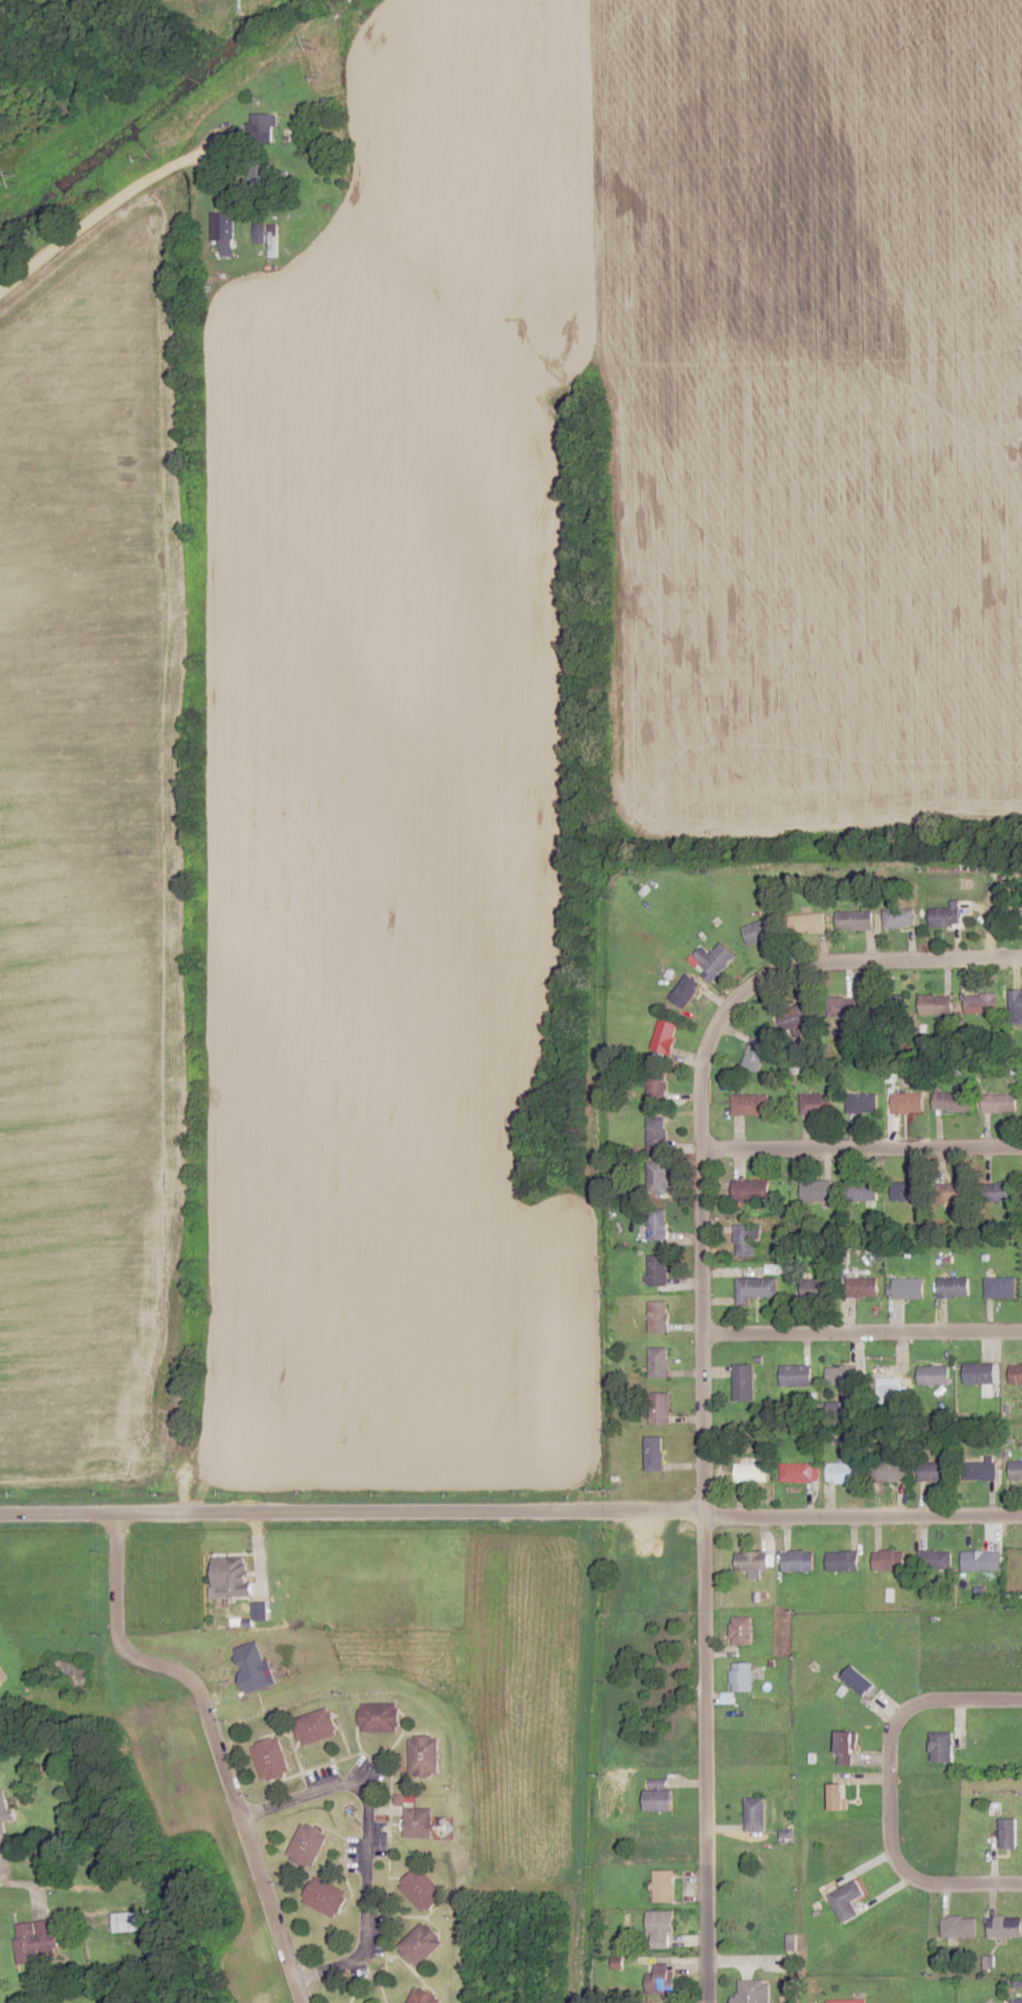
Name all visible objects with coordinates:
building: (264, 127)
road: (105, 220)
building: (259, 230)
building: (223, 231)
building: (273, 239)
building: (1019, 914)
building: (947, 915)
building: (900, 917)
building: (855, 919)
building: (809, 923)
building: (759, 931)
building: (715, 959)
building: (686, 991)
building: (981, 1003)
building: (935, 1004)
building: (890, 1005)
building: (843, 1006)
building: (797, 1015)
building: (664, 1037)
building: (755, 1054)
building: (657, 1085)
building: (952, 1101)
building: (999, 1102)
building: (816, 1103)
building: (862, 1103)
building: (907, 1103)
road: (697, 1104)
building: (750, 1104)
building: (656, 1135)
road: (859, 1147)
building: (657, 1177)
building: (750, 1190)
building: (816, 1190)
building: (907, 1190)
building: (862, 1191)
building: (1000, 1191)
building: (952, 1192)
building: (657, 1224)
building: (745, 1240)
building: (657, 1270)
building: (821, 1287)
building: (862, 1287)
building: (953, 1287)
building: (1000, 1287)
building: (907, 1288)
building: (756, 1289)
building: (658, 1316)
road: (860, 1333)
building: (658, 1362)
building: (979, 1373)
building: (1016, 1373)
building: (796, 1375)
building: (933, 1375)
building: (844, 1379)
building: (743, 1382)
building: (659, 1408)
building: (655, 1453)
road: (81, 1462)
building: (980, 1470)
building: (1016, 1470)
building: (888, 1471)
building: (934, 1471)
building: (751, 1472)
building: (796, 1472)
building: (843, 1472)
road: (511, 1512)
building: (934, 1559)
building: (889, 1560)
building: (977, 1560)
building: (752, 1561)
building: (797, 1561)
building: (842, 1561)
building: (235, 1577)
building: (740, 1630)
building: (2, 1675)
building: (741, 1676)
building: (858, 1680)
building: (380, 1716)
building: (316, 1725)
road: (207, 1731)
building: (941, 1746)
building: (845, 1747)
building: (424, 1754)
building: (271, 1757)
road: (703, 1759)
road: (889, 1792)
building: (658, 1795)
building: (838, 1795)
building: (5, 1811)
building: (755, 1813)
building: (417, 1818)
building: (1008, 1832)
road: (367, 1841)
building: (308, 1843)
building: (663, 1885)
building: (422, 1888)
building: (325, 1896)
building: (846, 1900)
building: (125, 1921)
building: (1005, 1925)
building: (958, 1926)
building: (660, 1929)
building: (34, 1941)
building: (420, 1943)
building: (661, 1979)
building: (748, 1988)
road: (298, 1992)
building: (424, 1996)
building: (847, 2001)

